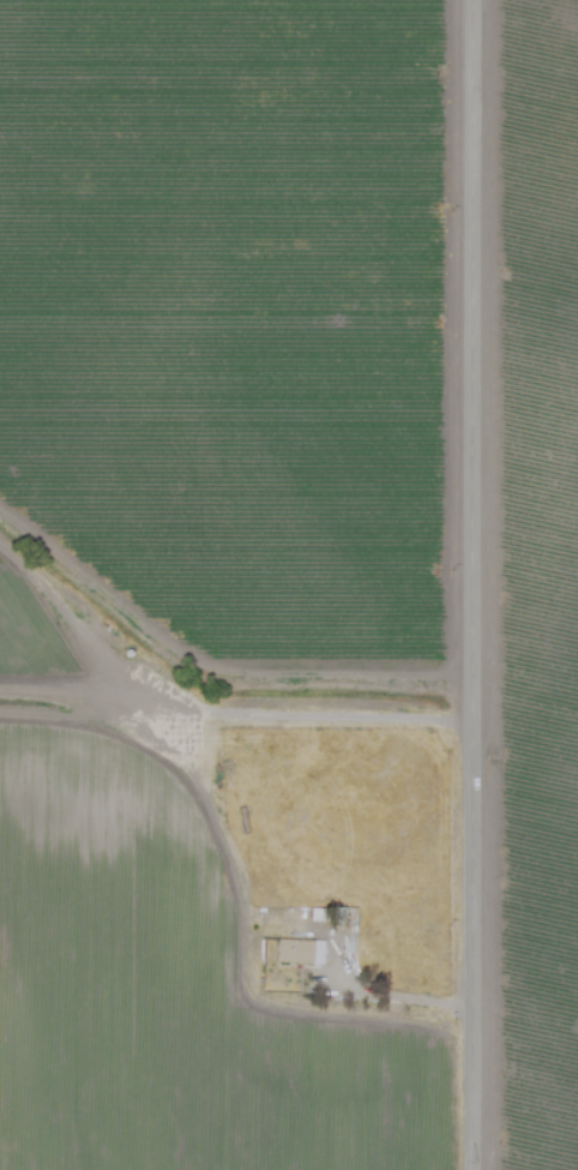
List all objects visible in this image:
crop: (289, 584)
road: (481, 584)
road: (241, 707)
building: (299, 952)
road: (405, 1000)

